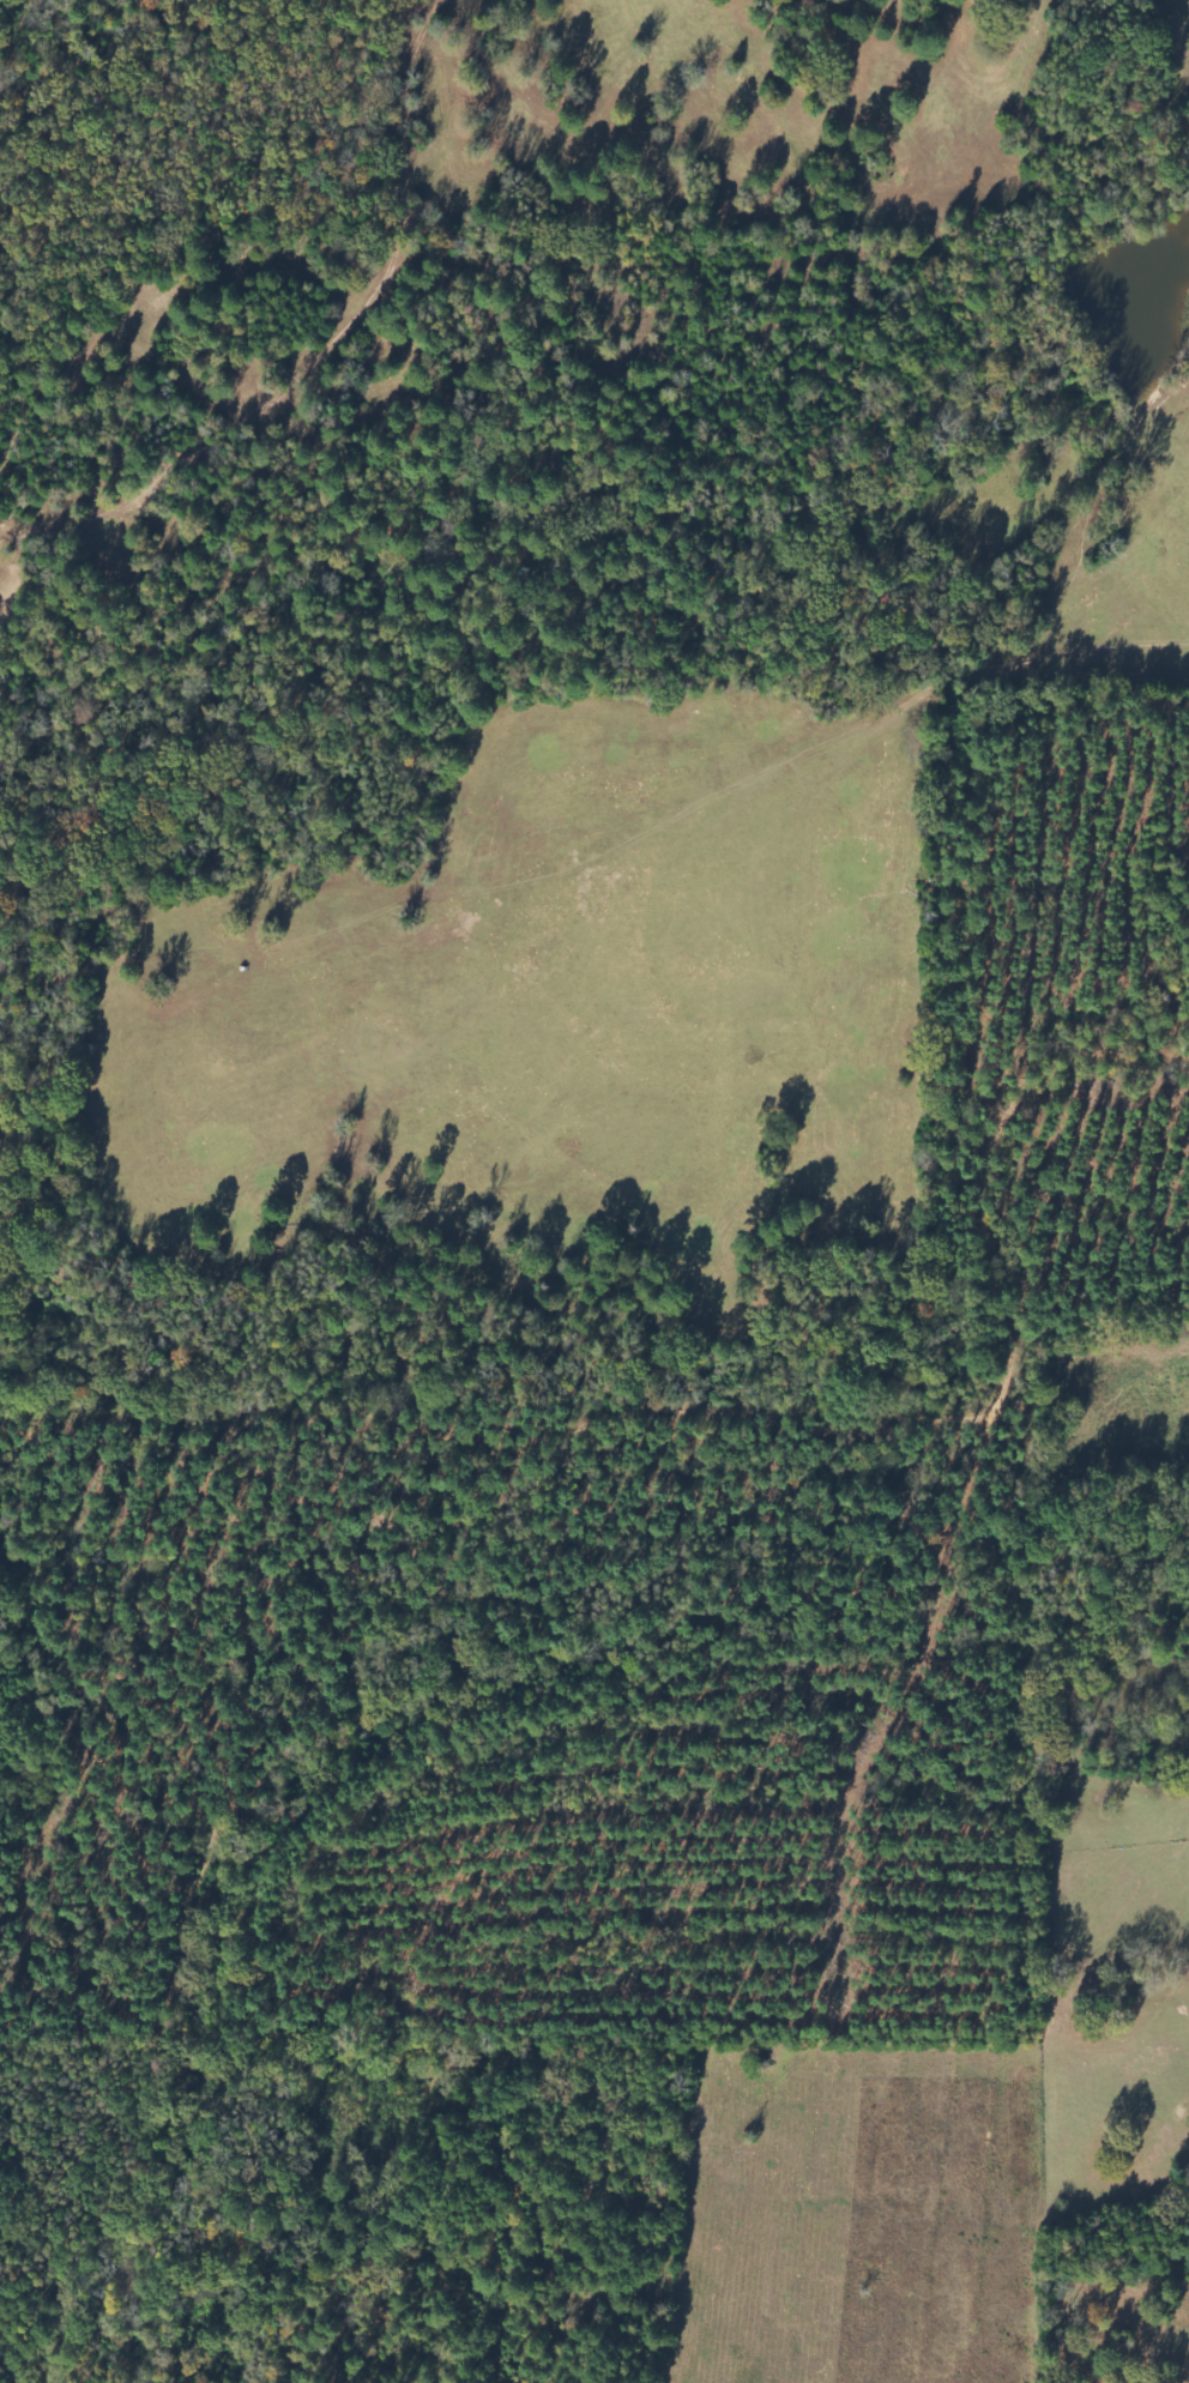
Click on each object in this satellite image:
road: (1173, 137)

